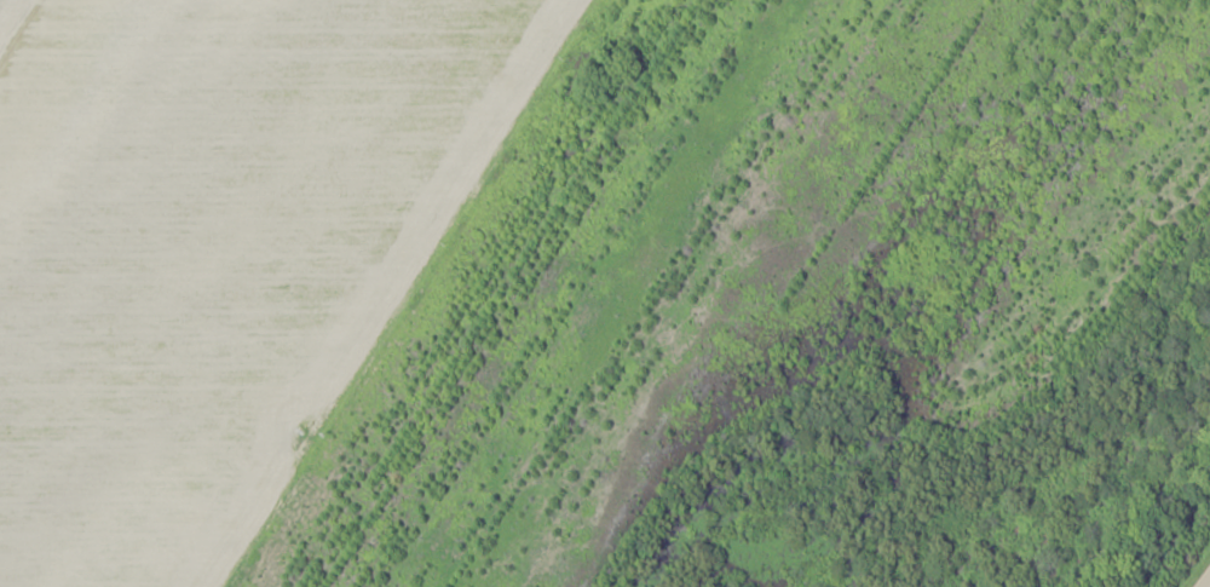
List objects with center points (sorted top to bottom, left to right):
road: (1205, 581)

